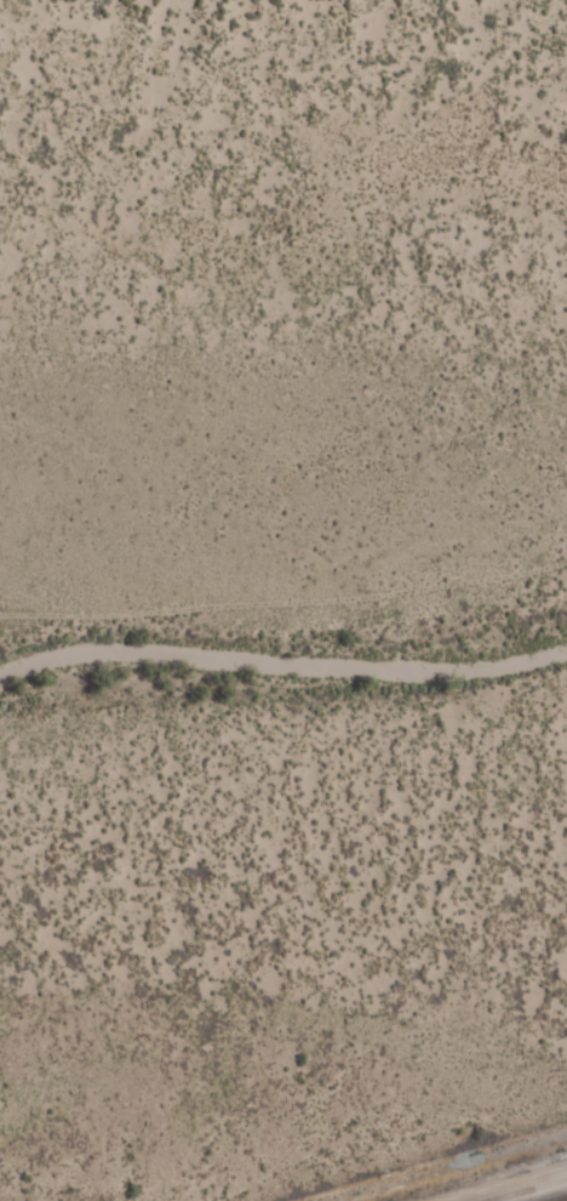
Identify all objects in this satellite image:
river: (285, 668)
railway: (526, 1189)
railway: (560, 1199)

